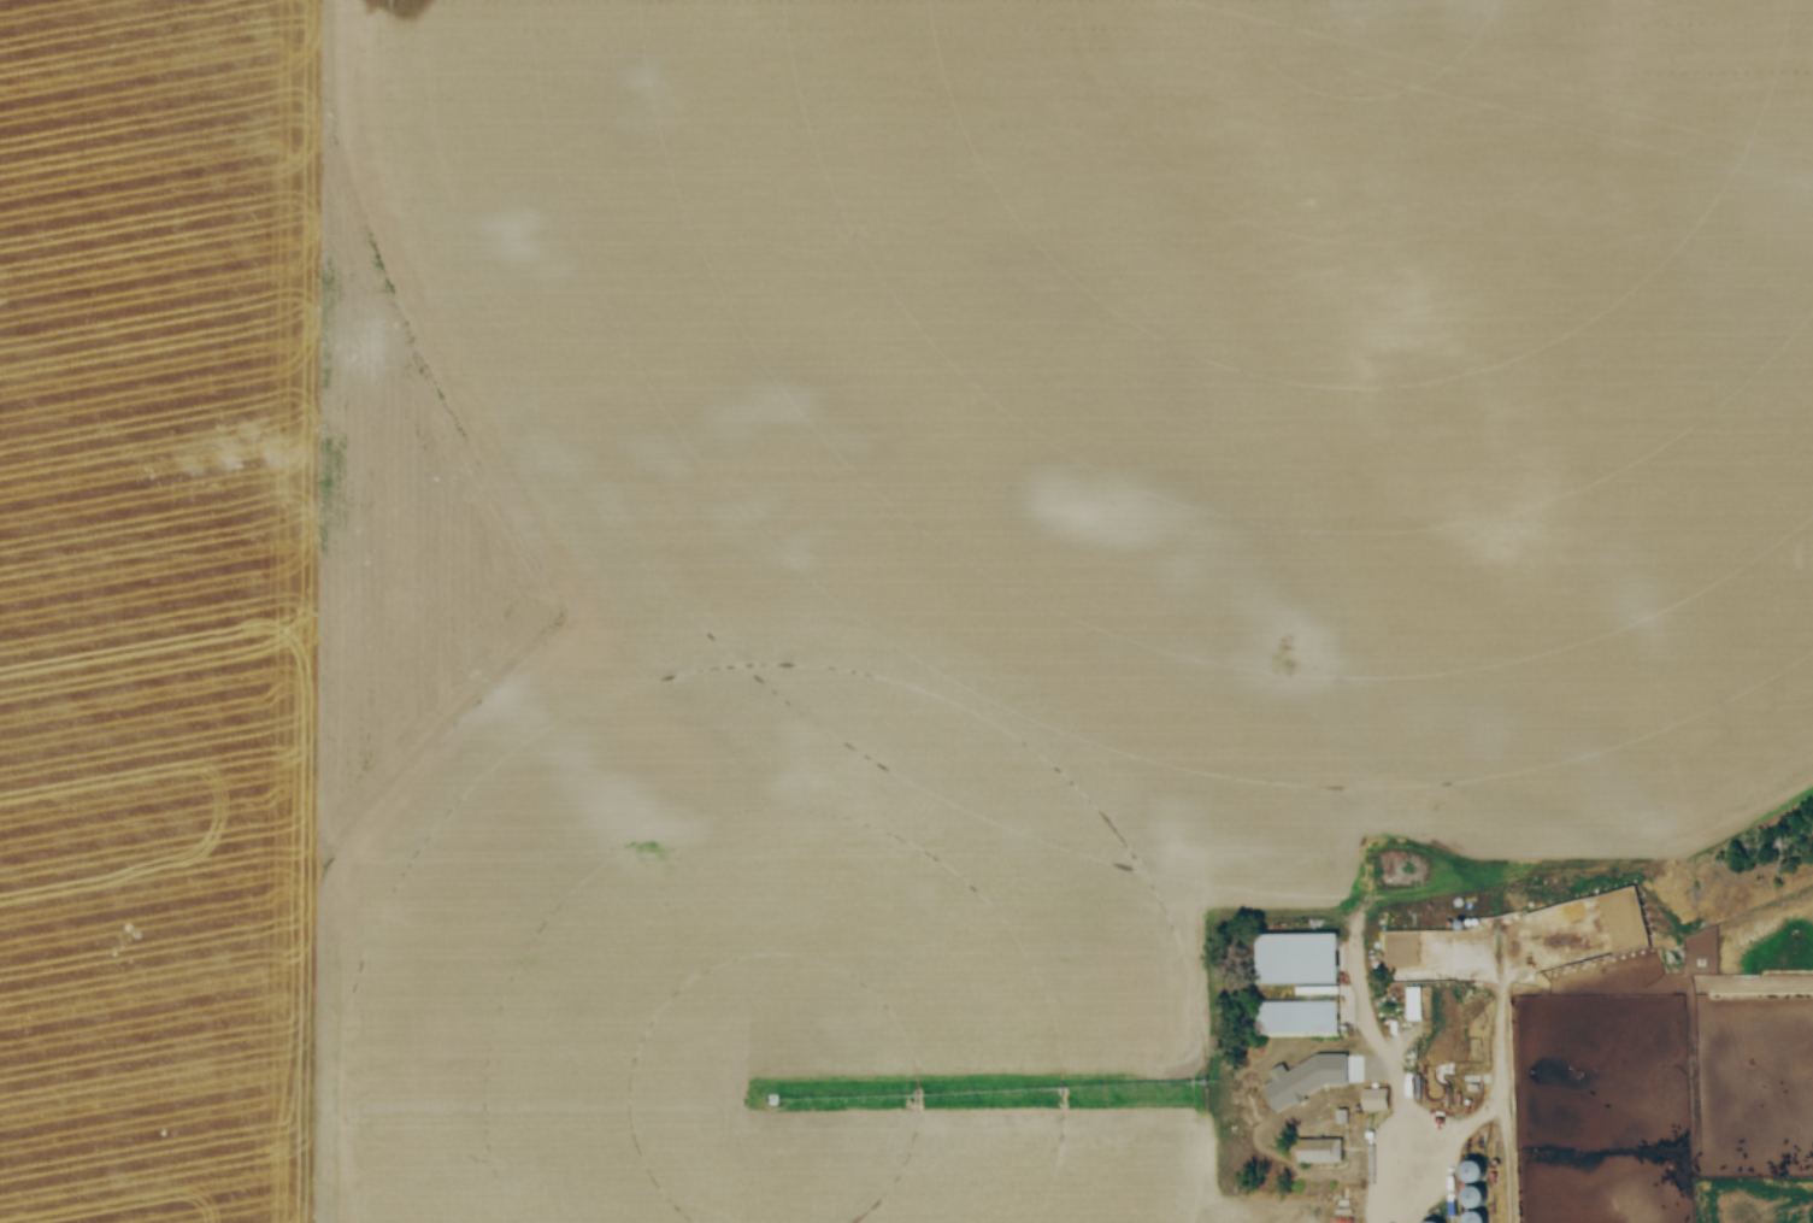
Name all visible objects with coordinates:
building: (1464, 924)
building: (1301, 958)
building: (1301, 1019)
road: (1497, 1069)
road: (1384, 1072)
building: (1376, 1100)
building: (1322, 1151)
building: (1477, 1171)
silo: (1477, 1171)
building: (1477, 1198)
silo: (1477, 1198)
building: (1478, 1218)
silo: (1478, 1218)

